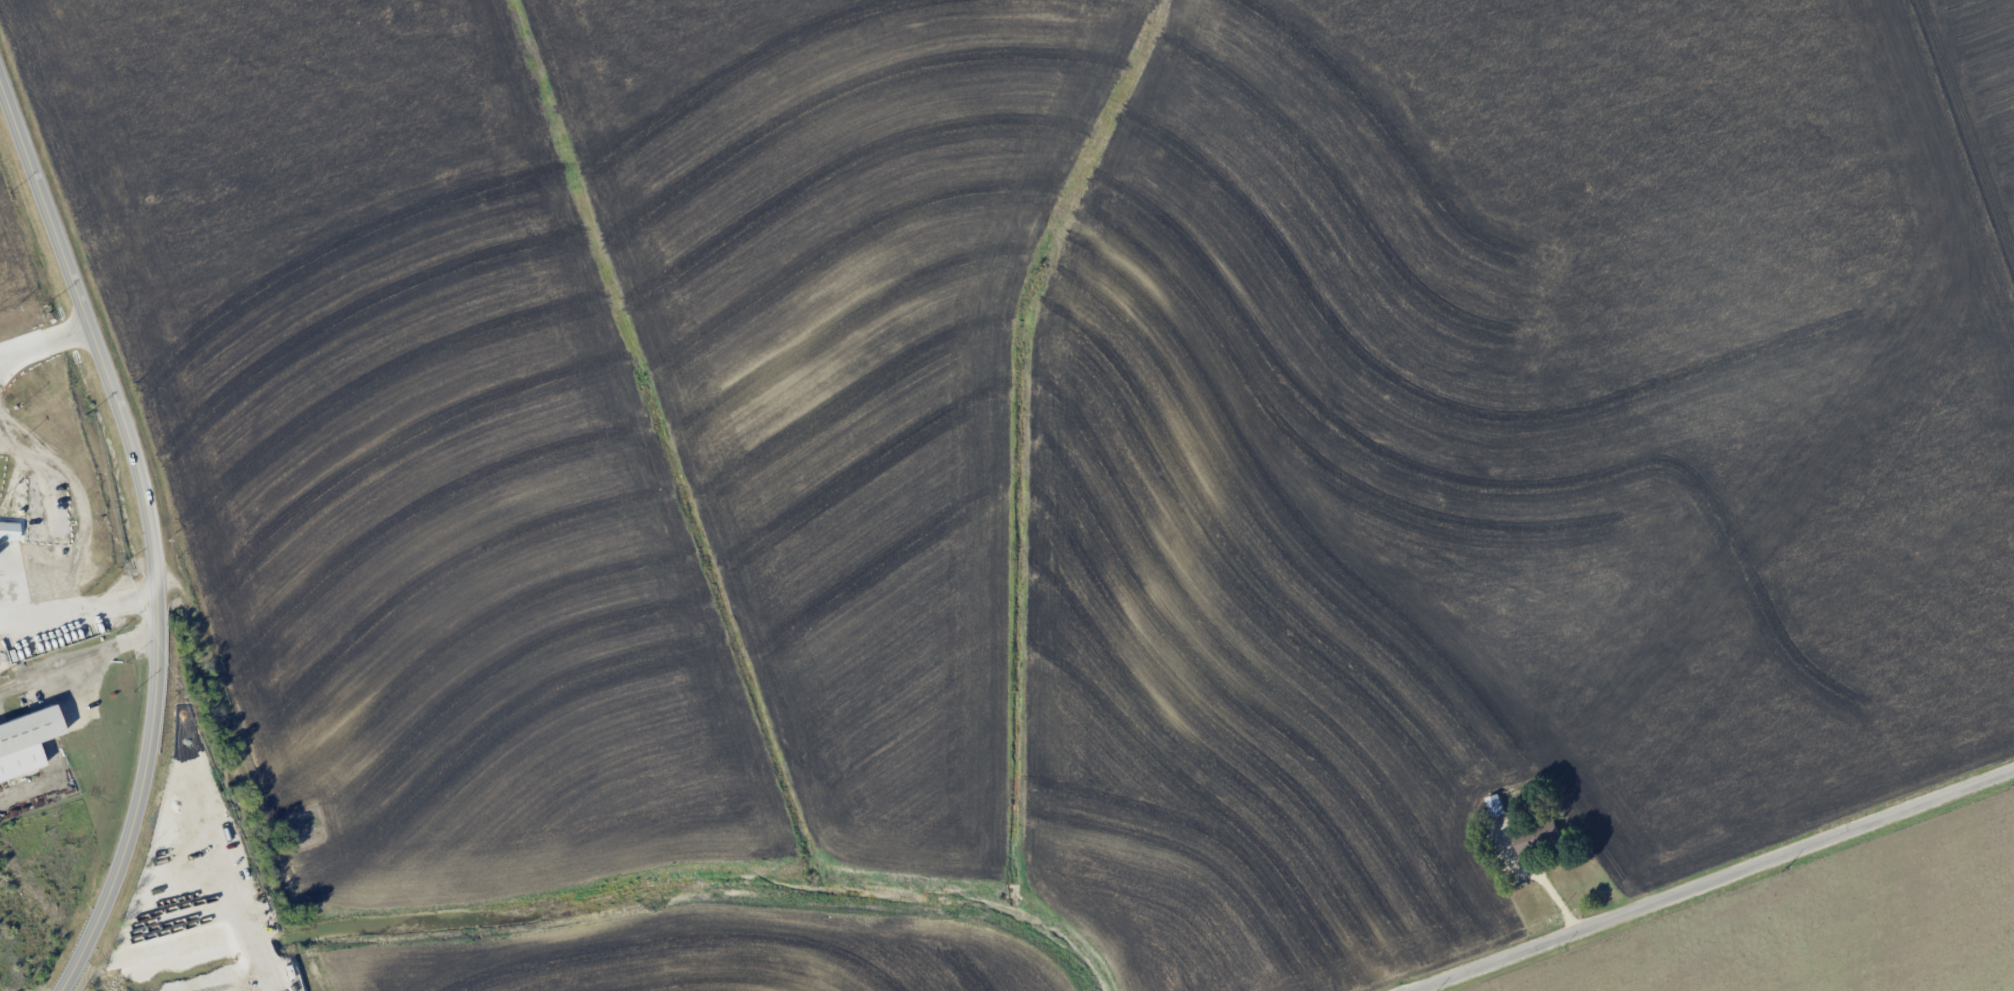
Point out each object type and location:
road: (42, 337)
road: (147, 532)
road: (81, 602)
road: (77, 660)
road: (222, 709)
building: (23, 742)
road: (29, 785)
building: (1495, 805)
park: (299, 829)
building: (1536, 837)
road: (1537, 875)
road: (1713, 880)
road: (67, 986)
road: (1415, 990)

